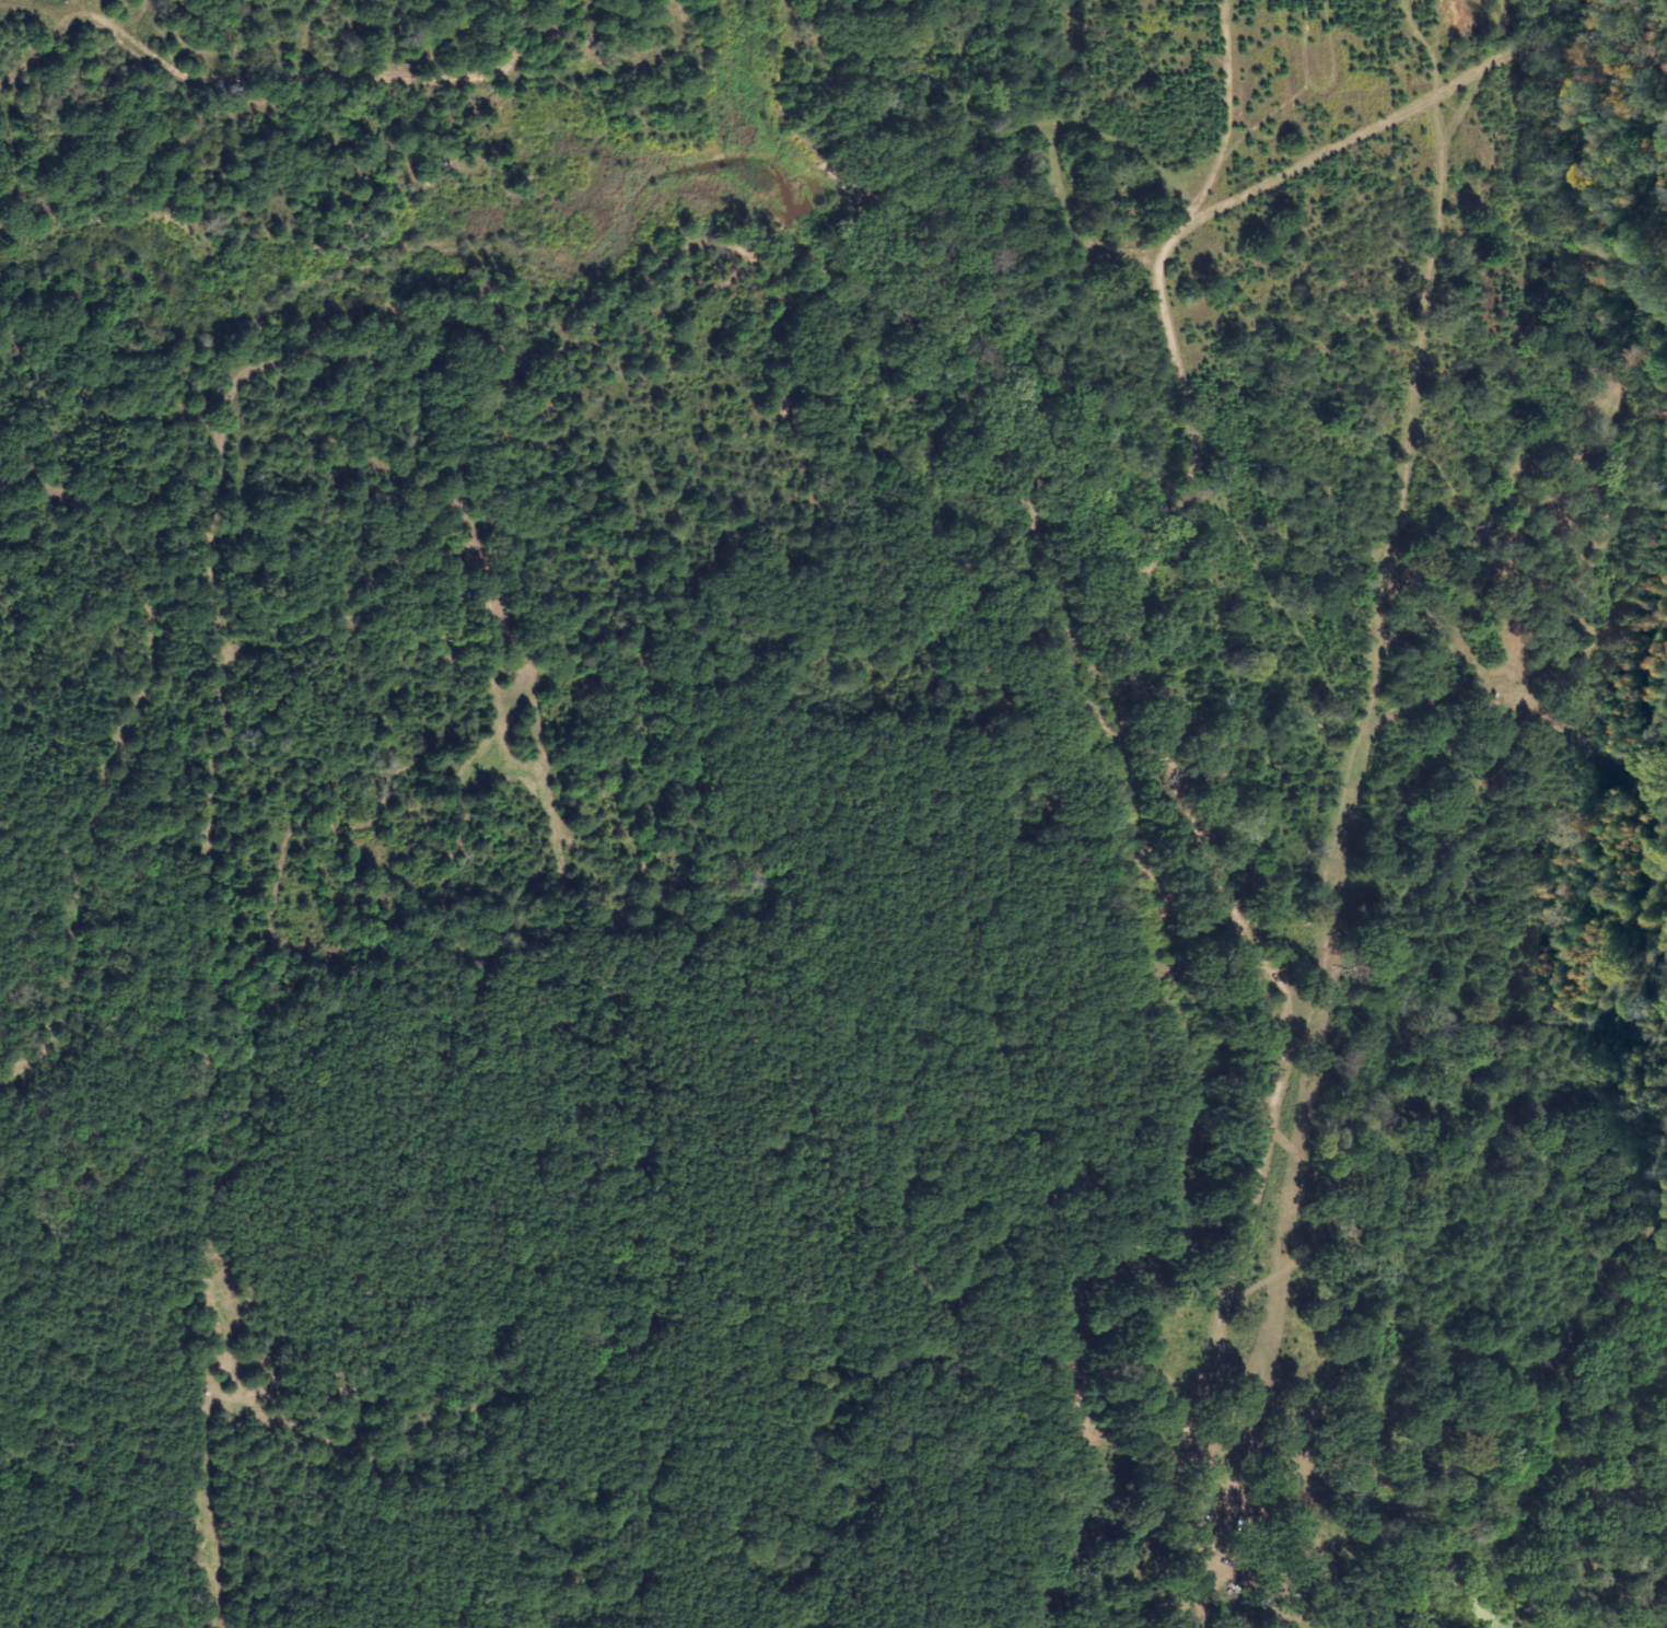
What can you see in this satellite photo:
road: (1261, 765)

